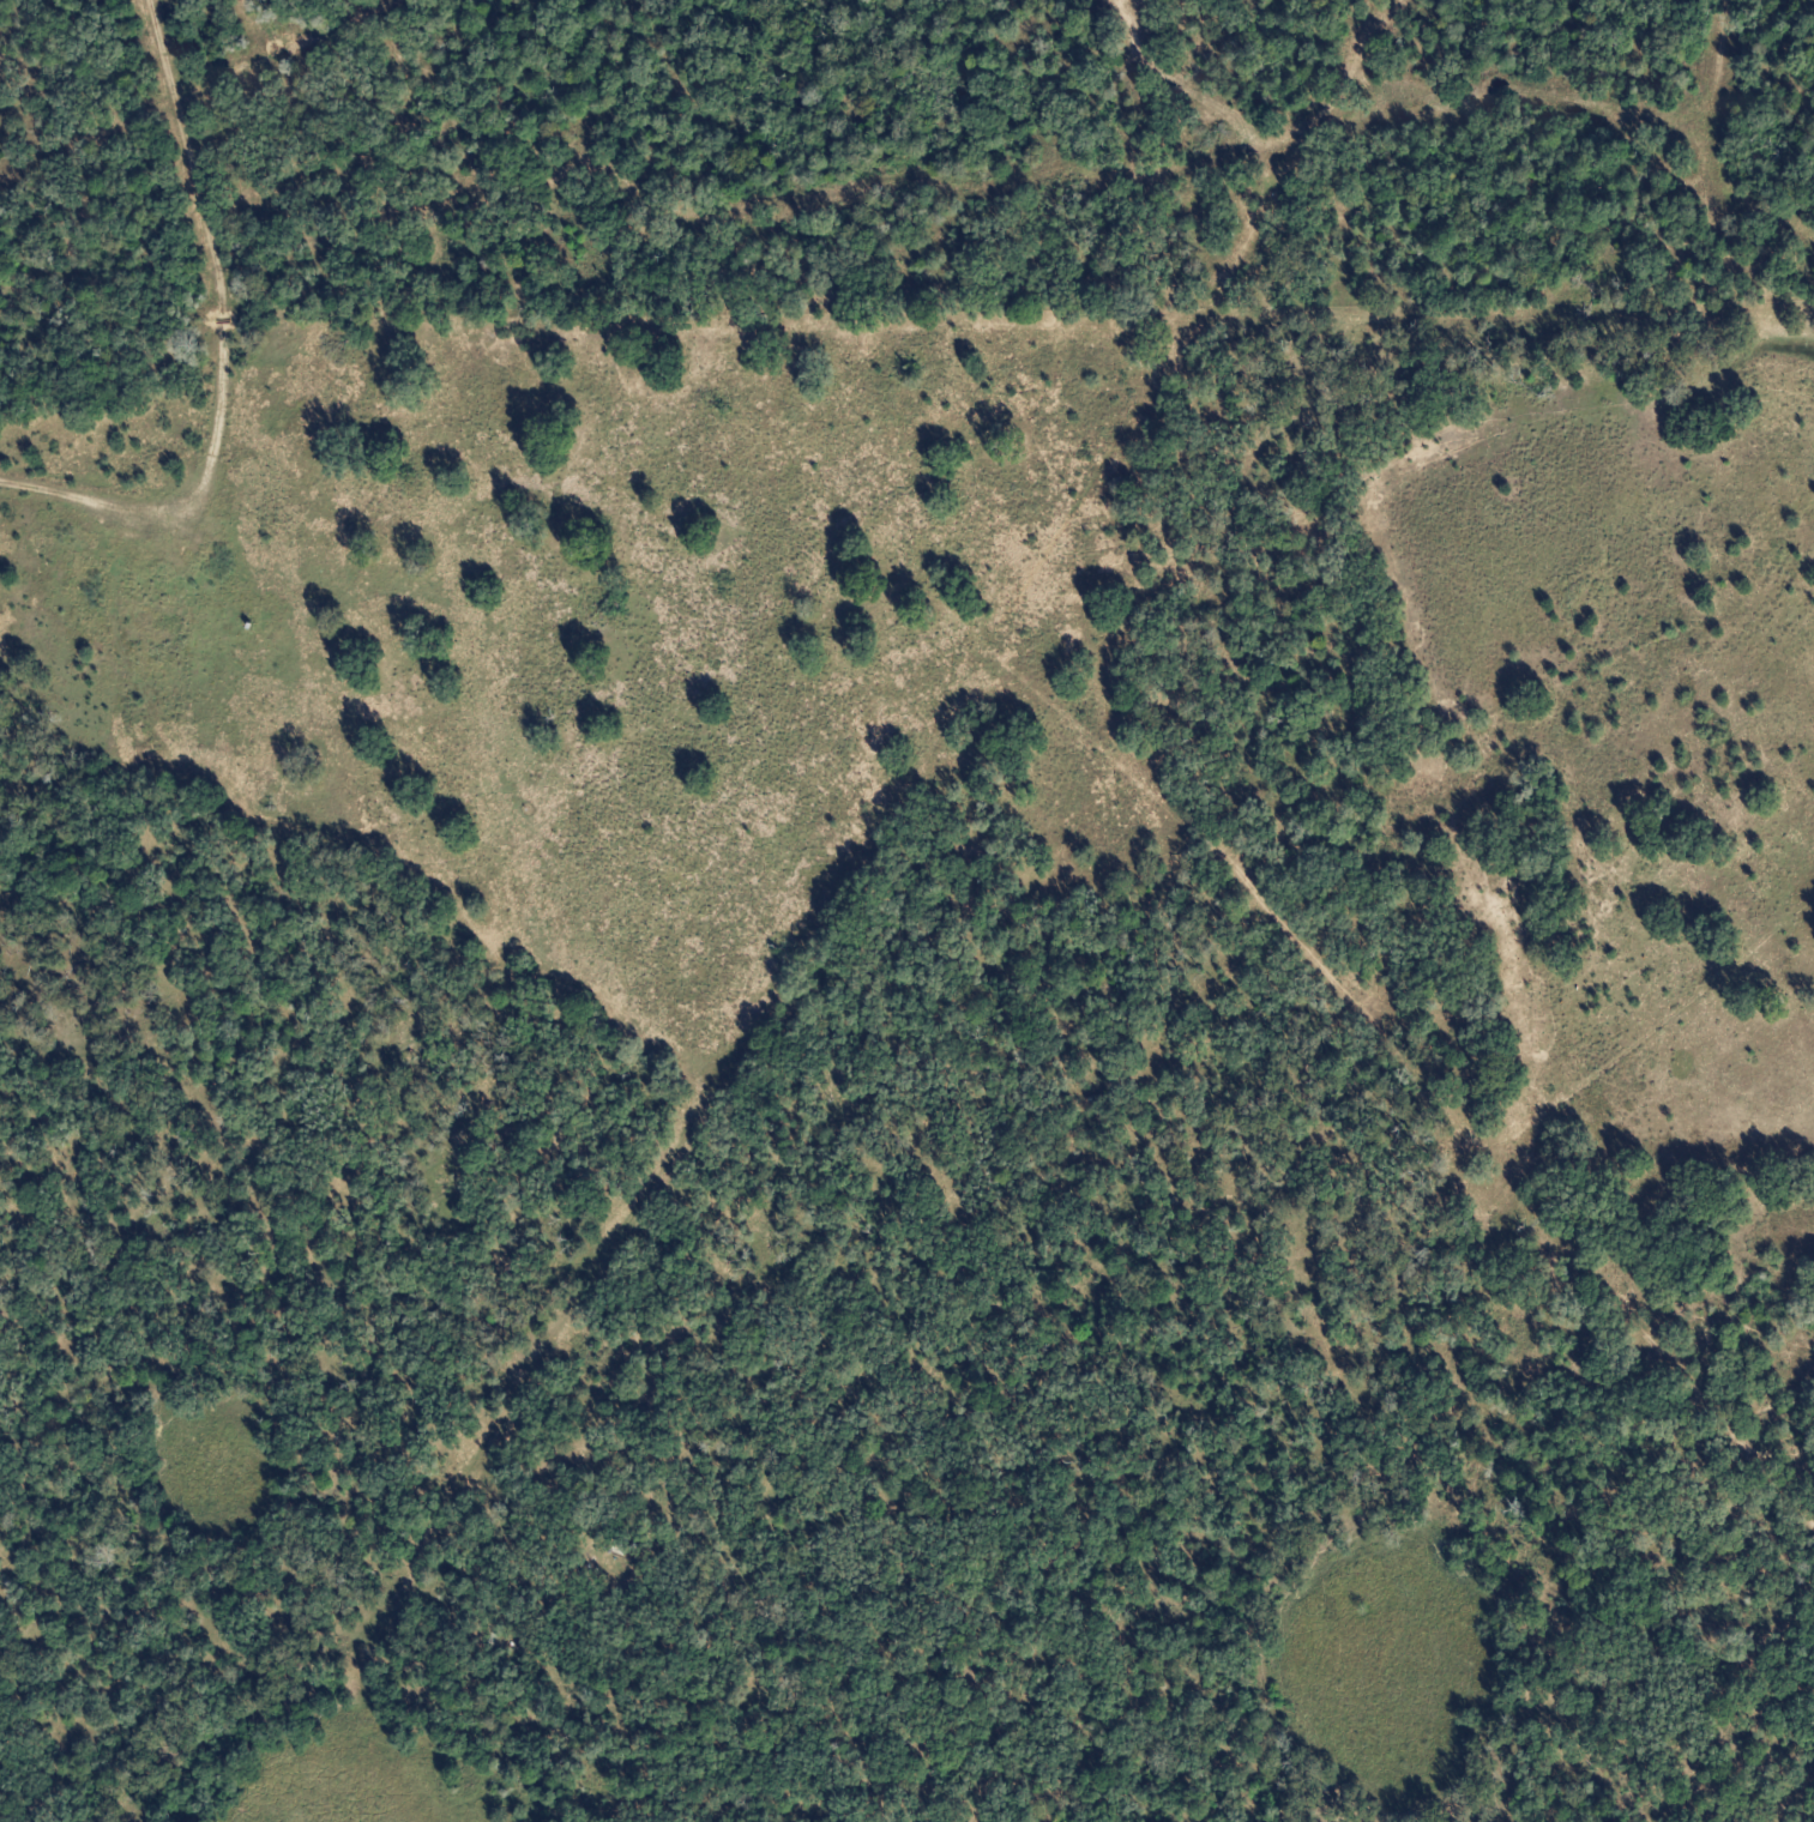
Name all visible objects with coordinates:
road: (182, 163)
road: (827, 320)
building: (614, 1548)

